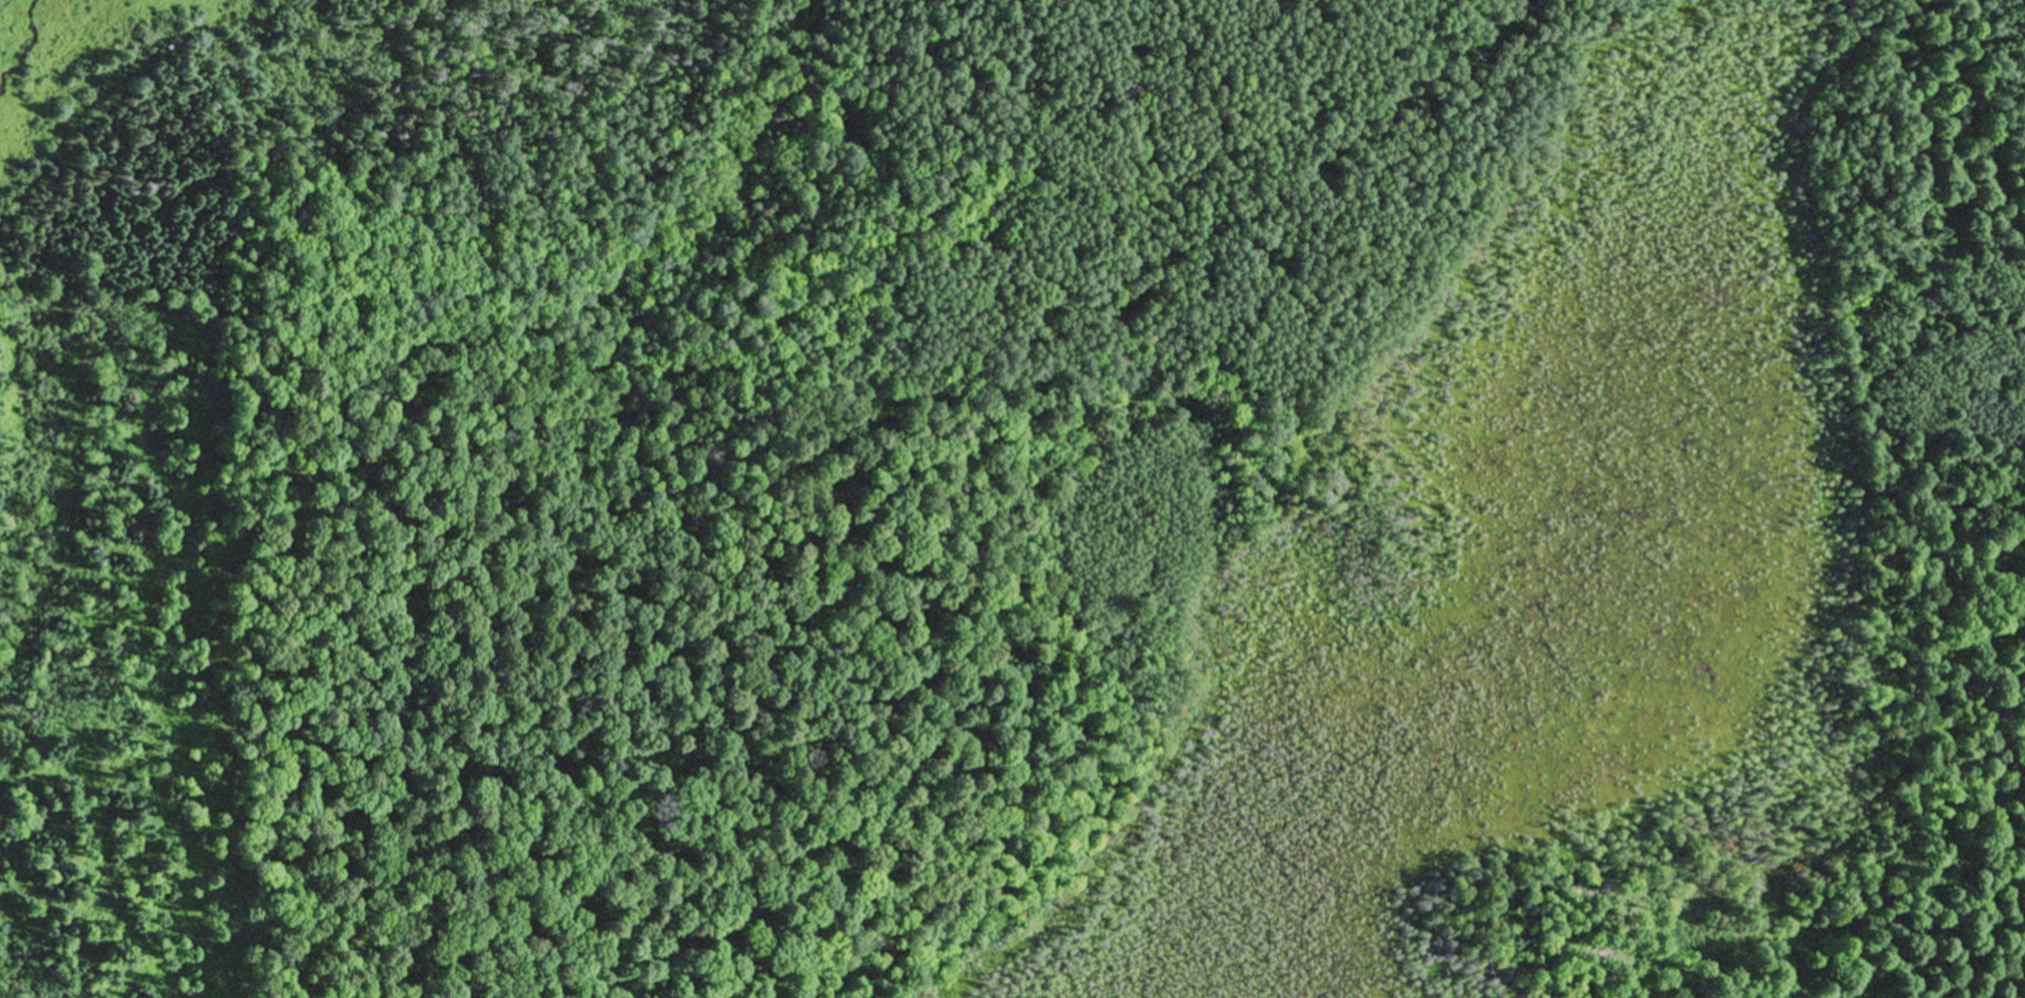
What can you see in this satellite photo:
road: (1953, 118)

